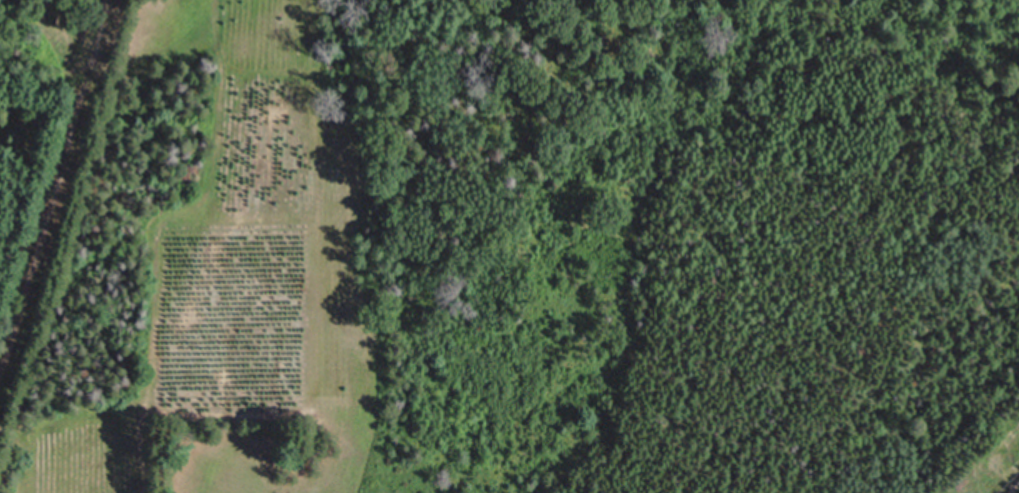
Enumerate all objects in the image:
road: (55, 215)
road: (1015, 489)

